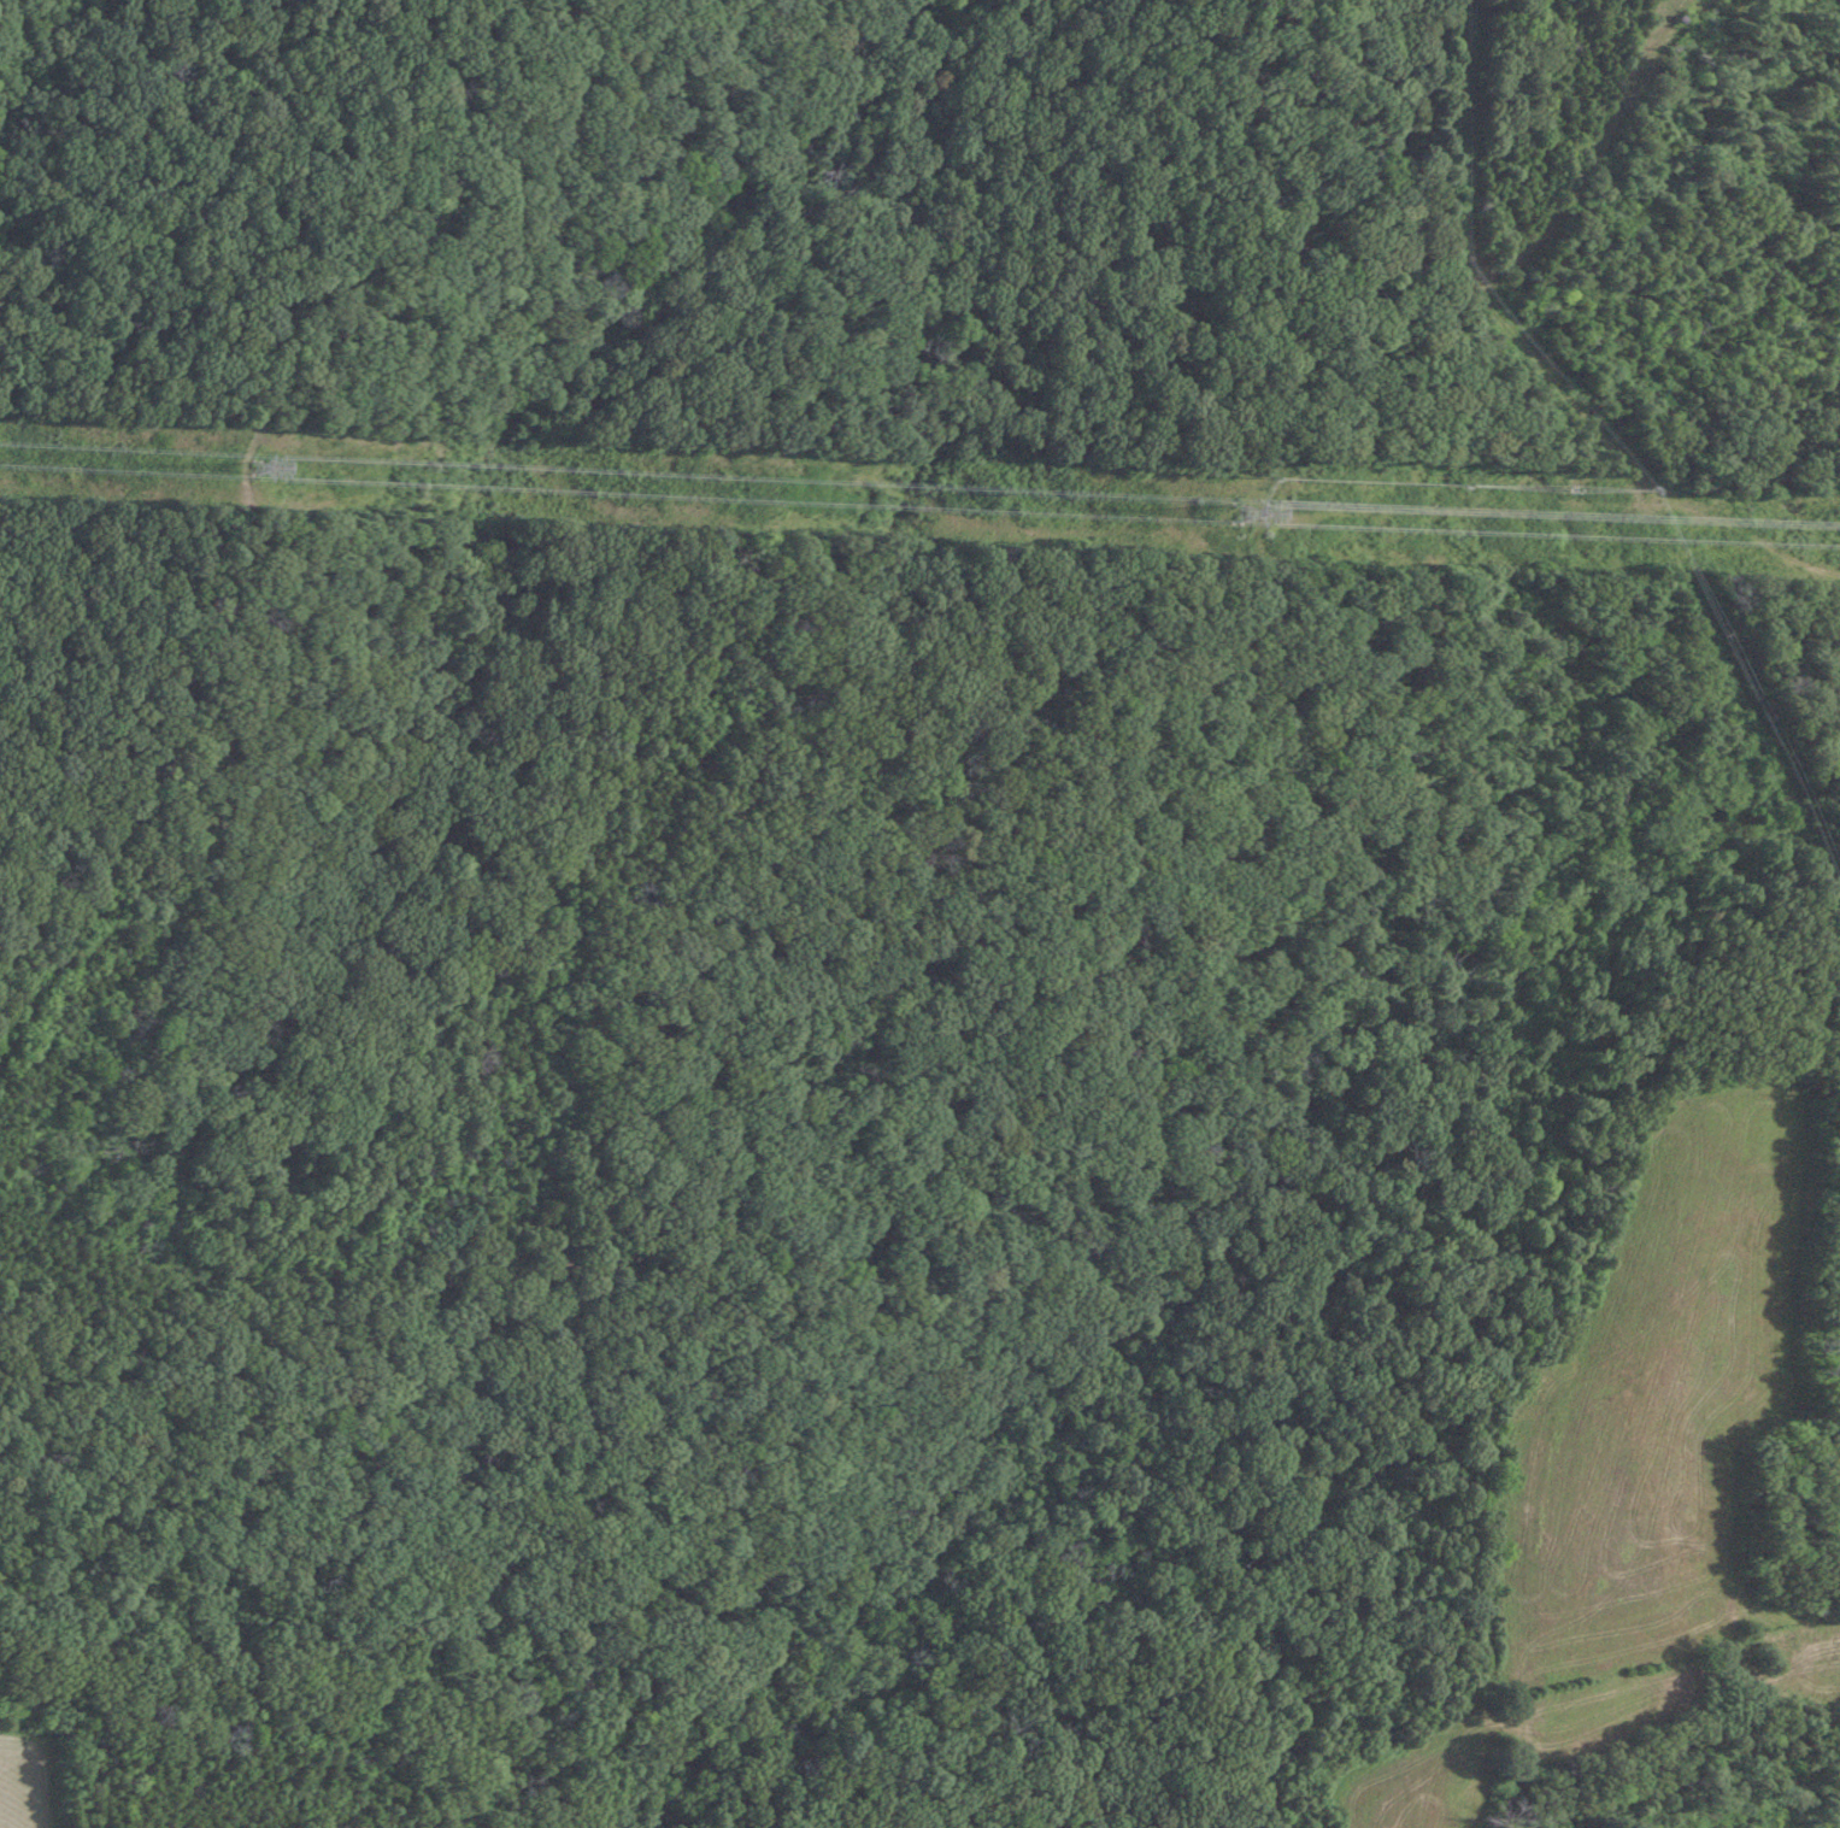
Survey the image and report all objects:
power tower: (257, 474)
power tower: (1241, 517)

